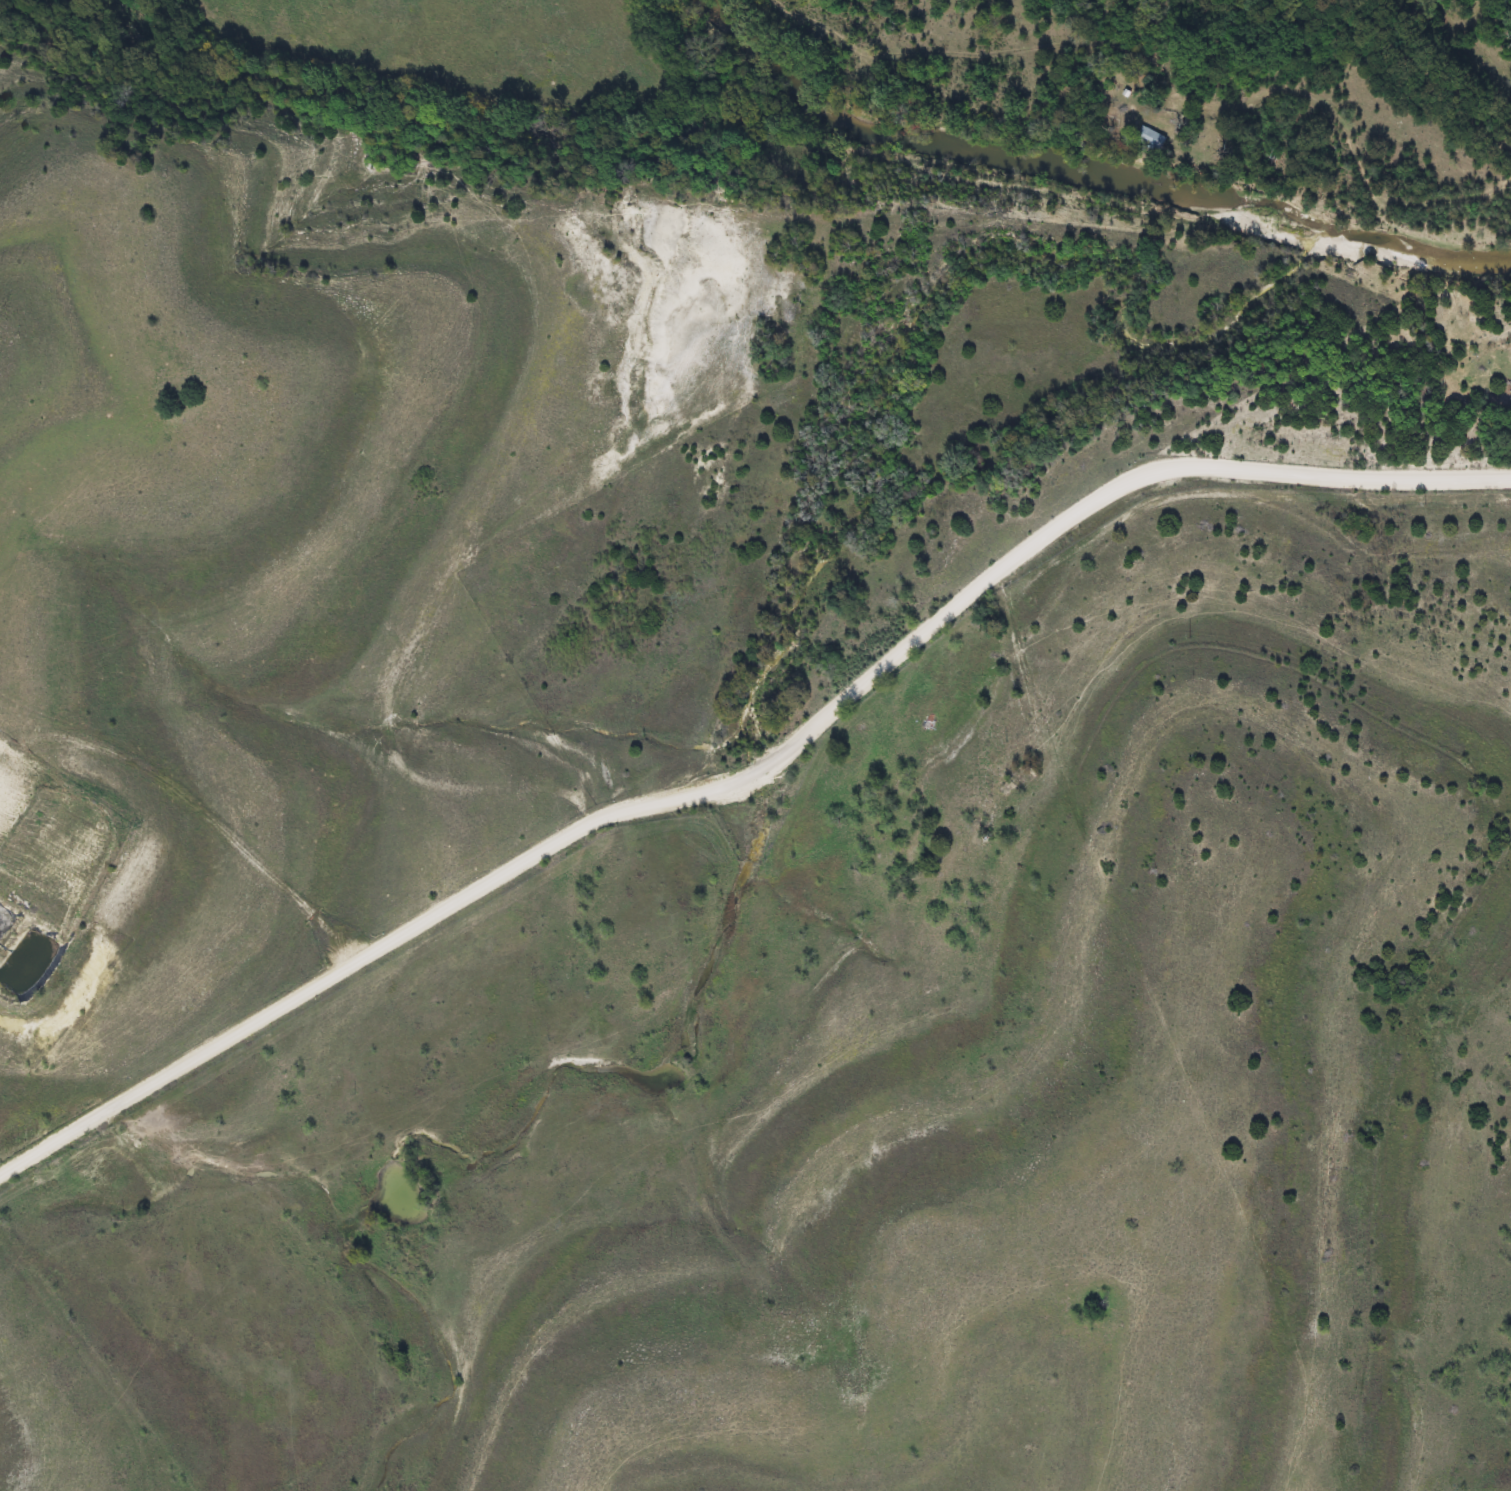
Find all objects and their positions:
railway: (1439, 68)
building: (1150, 141)
road: (756, 776)
building: (13, 943)
road: (812, 996)

